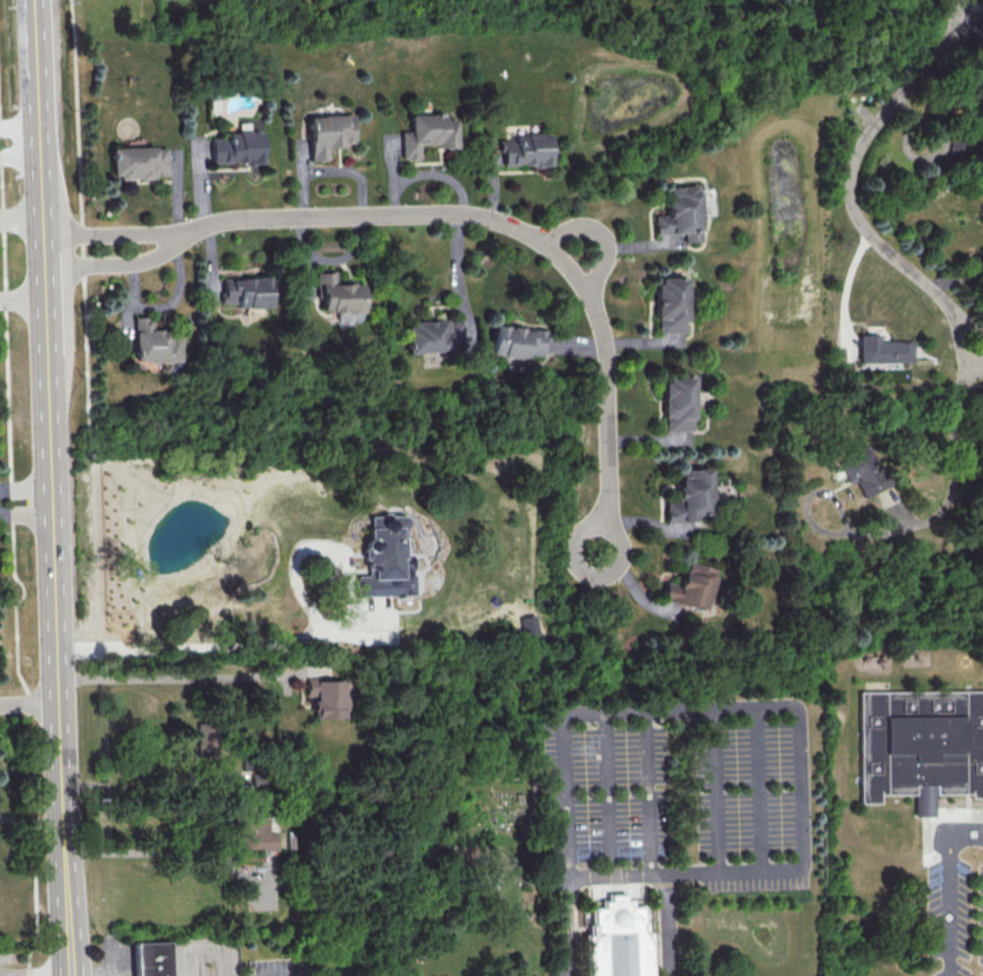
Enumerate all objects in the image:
building: (426, 133)
building: (328, 134)
road: (18, 135)
building: (236, 148)
road: (13, 149)
building: (524, 150)
building: (138, 162)
road: (849, 176)
building: (681, 213)
road: (80, 214)
road: (22, 223)
road: (128, 232)
road: (596, 236)
road: (540, 243)
road: (133, 261)
road: (456, 272)
road: (847, 284)
building: (244, 291)
building: (337, 294)
road: (22, 298)
building: (669, 305)
building: (433, 336)
building: (517, 341)
building: (153, 342)
building: (882, 350)
road: (46, 351)
road: (976, 354)
road: (972, 390)
building: (679, 403)
road: (953, 439)
building: (862, 470)
road: (25, 490)
building: (691, 496)
road: (26, 514)
building: (385, 558)
road: (13, 572)
building: (690, 587)
building: (528, 626)
road: (299, 641)
road: (162, 679)
building: (325, 697)
road: (29, 704)
road: (754, 704)
building: (920, 746)
road: (651, 776)
road: (607, 777)
road: (760, 785)
road: (716, 786)
road: (133, 792)
road: (31, 824)
building: (258, 834)
road: (64, 839)
road: (621, 846)
road: (142, 853)
road: (616, 870)
road: (945, 887)
building: (615, 941)
road: (193, 959)
building: (152, 960)
building: (518, 975)

